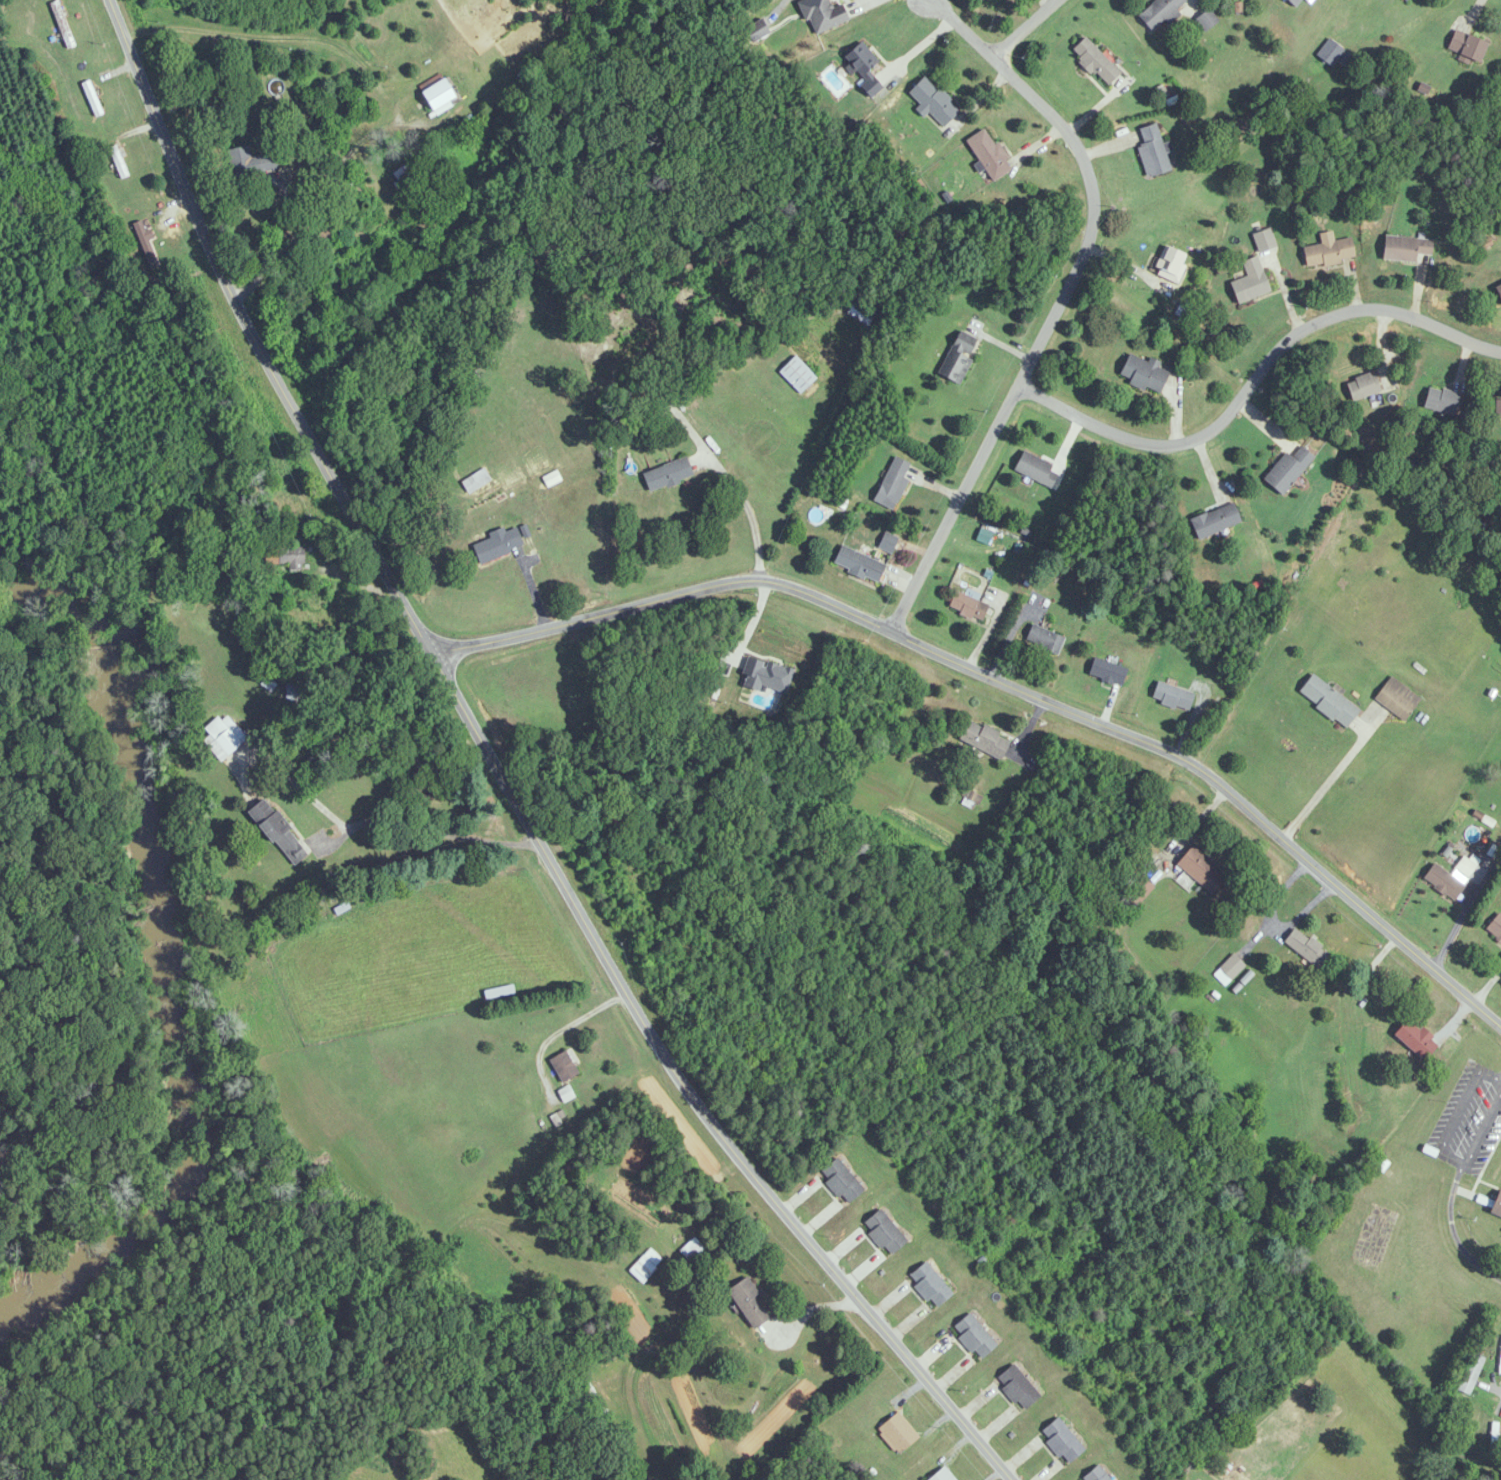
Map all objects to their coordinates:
building: (1405, 0)
building: (1293, 2)
building: (1160, 13)
building: (821, 15)
building: (1206, 19)
building: (63, 25)
road: (1023, 28)
building: (756, 31)
building: (1466, 47)
building: (1095, 61)
building: (862, 68)
building: (437, 96)
building: (92, 99)
building: (932, 101)
building: (1153, 151)
building: (988, 154)
building: (118, 162)
building: (250, 165)
building: (405, 174)
building: (1264, 240)
building: (1405, 249)
building: (149, 252)
building: (1328, 253)
building: (1171, 264)
building: (1250, 282)
building: (1498, 290)
road: (1062, 302)
building: (861, 313)
building: (957, 356)
building: (1143, 373)
building: (797, 374)
road: (1254, 375)
building: (1362, 386)
building: (1441, 400)
building: (1497, 409)
building: (1288, 467)
building: (1035, 468)
building: (666, 474)
building: (476, 480)
building: (892, 483)
road: (750, 510)
building: (1214, 520)
building: (887, 542)
building: (497, 544)
building: (293, 560)
building: (858, 563)
building: (967, 606)
building: (1044, 639)
building: (1107, 672)
building: (765, 675)
road: (1009, 684)
building: (1172, 696)
building: (1397, 698)
building: (1328, 700)
building: (225, 737)
building: (983, 739)
road: (504, 775)
road: (1331, 777)
road: (425, 829)
building: (280, 831)
building: (1201, 870)
building: (1450, 878)
road: (644, 883)
building: (1138, 892)
road: (1468, 909)
building: (1495, 927)
building: (1306, 947)
river: (172, 961)
building: (1230, 968)
road: (579, 1006)
building: (1415, 1039)
building: (563, 1066)
road: (1500, 1077)
road: (1500, 1081)
road: (1479, 1134)
building: (1496, 1205)
building: (883, 1232)
road: (1454, 1236)
building: (645, 1265)
building: (929, 1285)
building: (748, 1303)
building: (973, 1337)
road: (302, 1339)
building: (1471, 1374)
building: (1017, 1388)
road: (1493, 1394)
building: (897, 1433)
building: (1062, 1441)
building: (1096, 1474)
building: (942, 1475)

